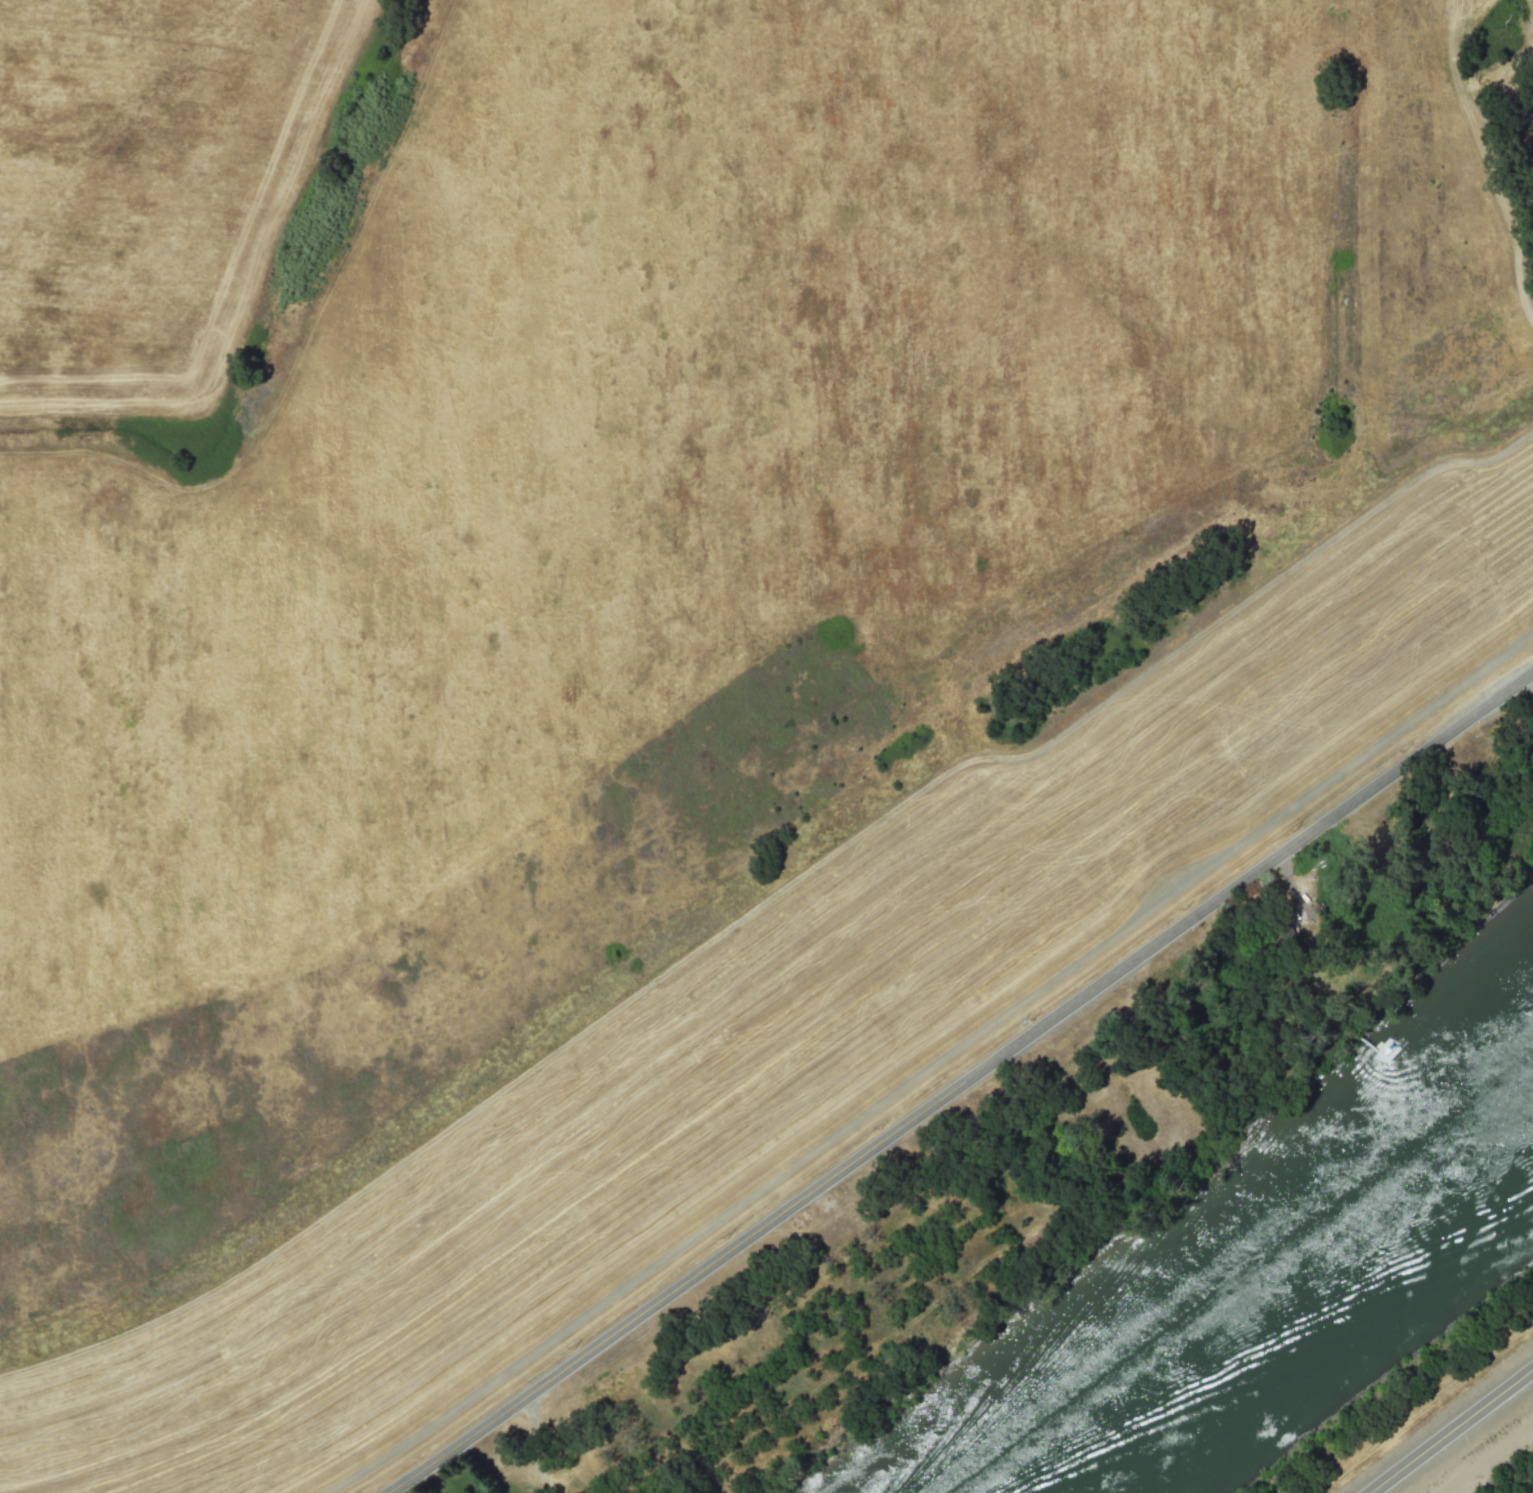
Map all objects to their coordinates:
road: (963, 1080)
river: (1281, 1286)
road: (1452, 1432)
crop: (1489, 1455)

